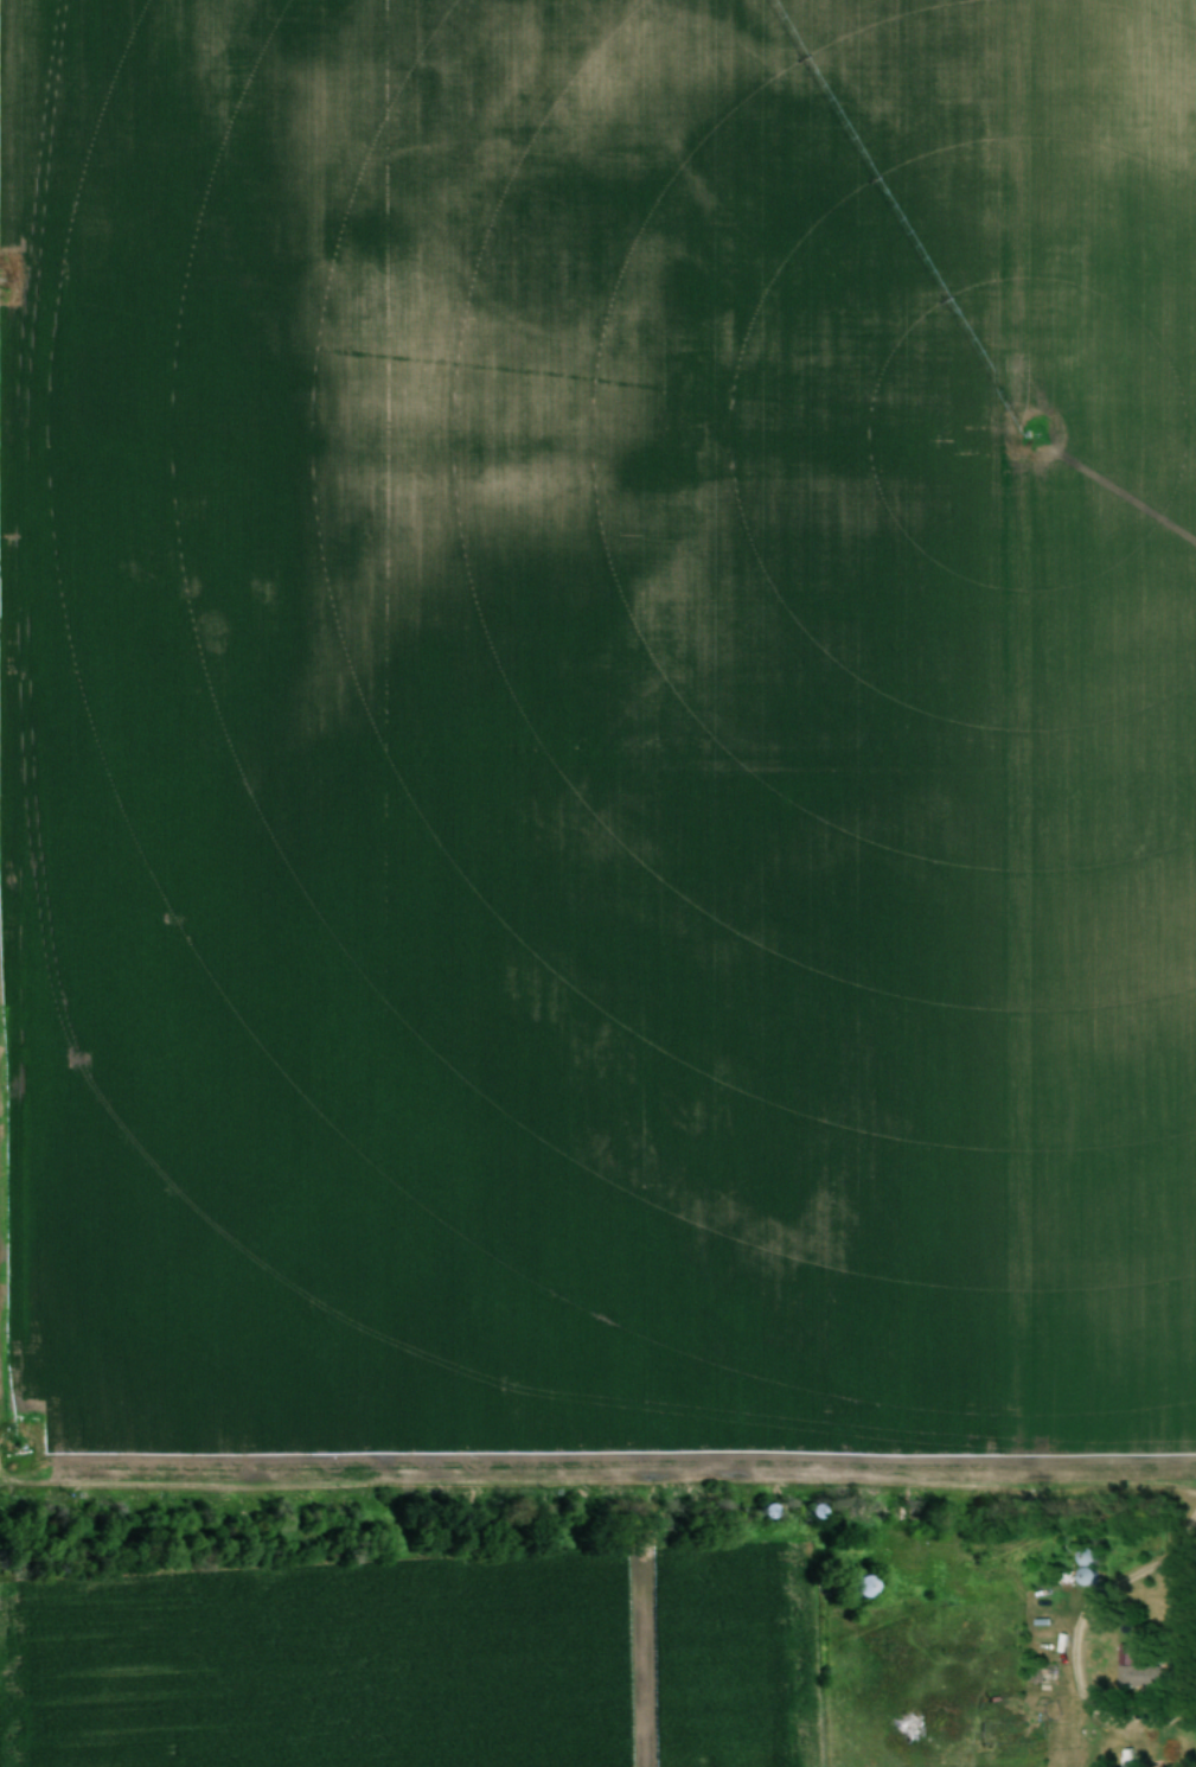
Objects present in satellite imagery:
building: (812, 1511)
building: (765, 1512)
road: (1189, 1530)
building: (856, 1588)
building: (1140, 1672)
road: (1143, 1724)

